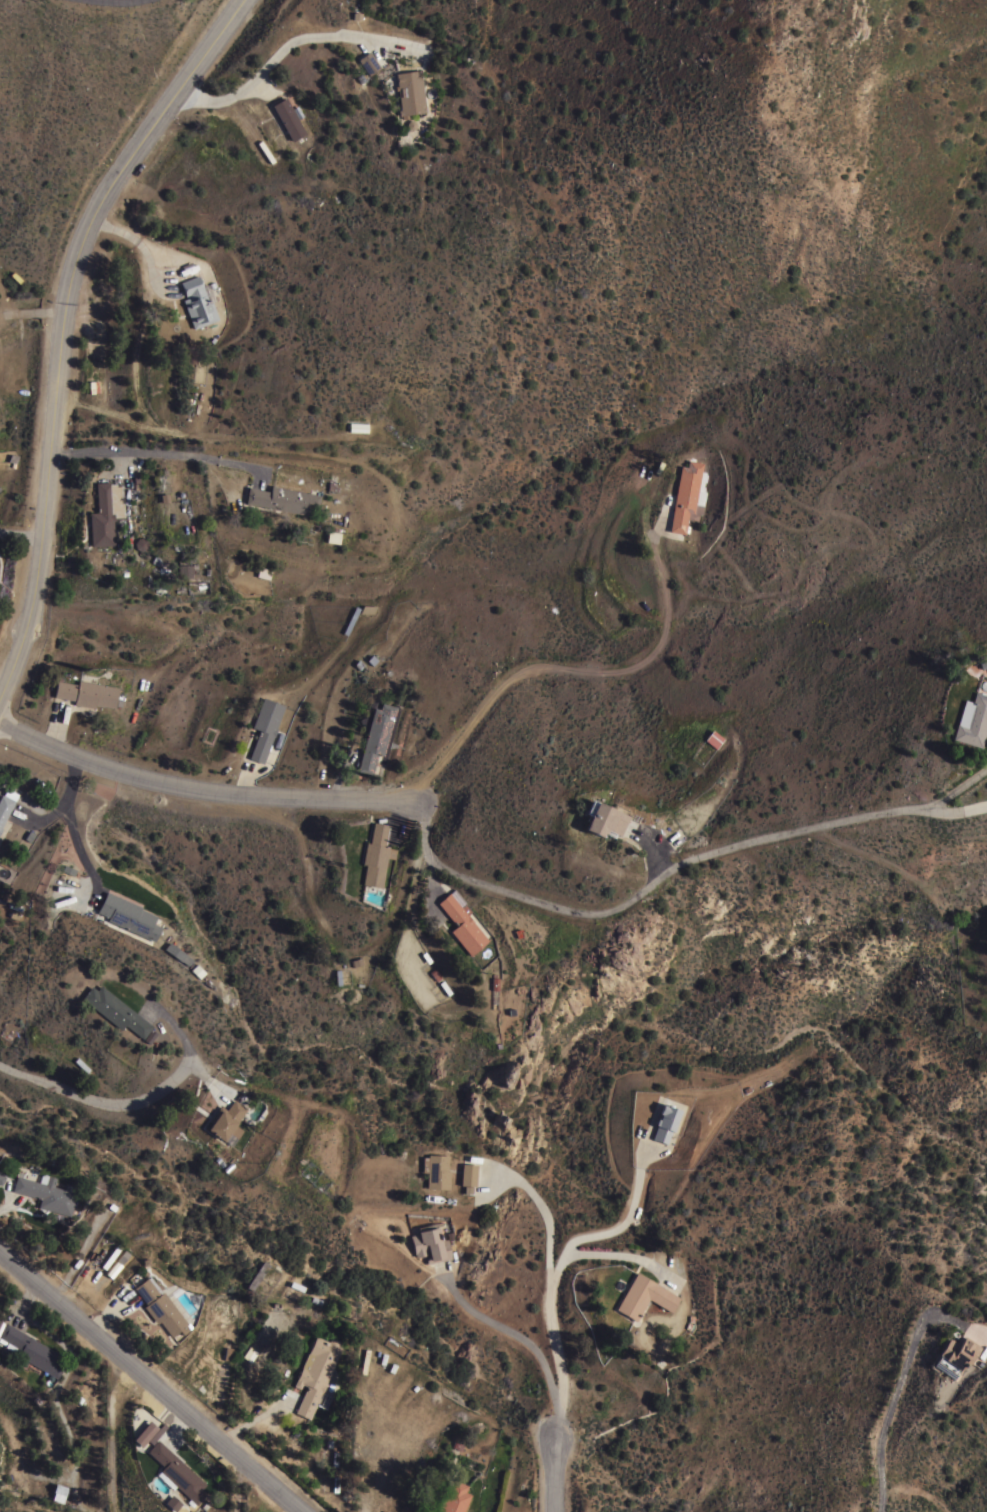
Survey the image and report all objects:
road: (117, 1)
road: (280, 52)
building: (368, 63)
building: (409, 92)
building: (288, 118)
road: (141, 246)
building: (197, 302)
road: (31, 312)
road: (62, 324)
building: (93, 386)
building: (357, 426)
road: (159, 453)
building: (686, 497)
building: (284, 499)
building: (104, 512)
building: (331, 536)
road: (22, 537)
building: (141, 543)
building: (186, 570)
building: (263, 572)
building: (350, 620)
building: (983, 663)
road: (551, 665)
building: (86, 693)
building: (971, 720)
road: (54, 727)
building: (264, 727)
building: (375, 737)
building: (713, 738)
road: (957, 788)
road: (65, 797)
building: (6, 803)
building: (603, 819)
building: (0, 828)
building: (378, 832)
road: (75, 842)
road: (657, 851)
building: (375, 862)
road: (477, 882)
building: (129, 915)
building: (462, 924)
building: (177, 953)
building: (114, 1010)
road: (131, 1103)
building: (226, 1122)
building: (665, 1122)
building: (435, 1170)
building: (468, 1174)
building: (1, 1178)
building: (46, 1192)
road: (541, 1209)
building: (429, 1243)
road: (624, 1257)
road: (552, 1274)
building: (256, 1275)
building: (643, 1296)
building: (160, 1307)
road: (512, 1333)
building: (1, 1341)
building: (31, 1350)
building: (246, 1354)
building: (954, 1355)
building: (315, 1372)
road: (152, 1380)
building: (224, 1383)
road: (895, 1392)
building: (144, 1433)
building: (175, 1469)
road: (554, 1476)
road: (240, 1486)
building: (58, 1492)
building: (455, 1498)
building: (381, 1511)
building: (387, 1511)

